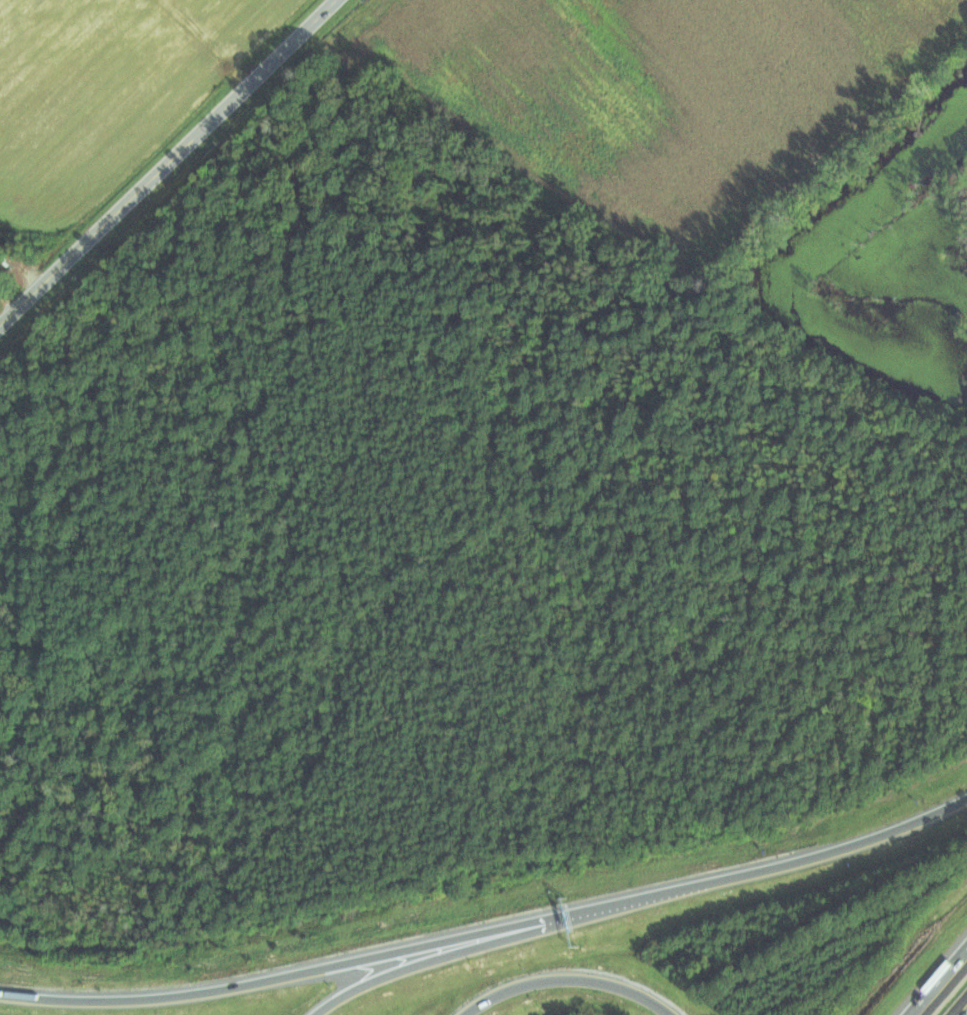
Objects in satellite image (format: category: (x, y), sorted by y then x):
road: (167, 162)
road: (801, 859)
road: (469, 949)
road: (316, 969)
road: (568, 979)
road: (936, 979)

